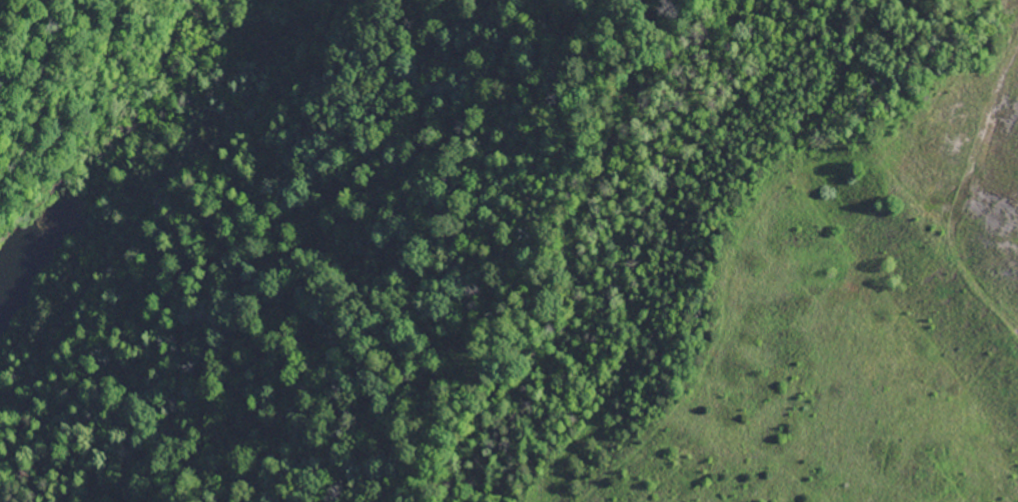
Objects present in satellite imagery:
quarry: (987, 201)

